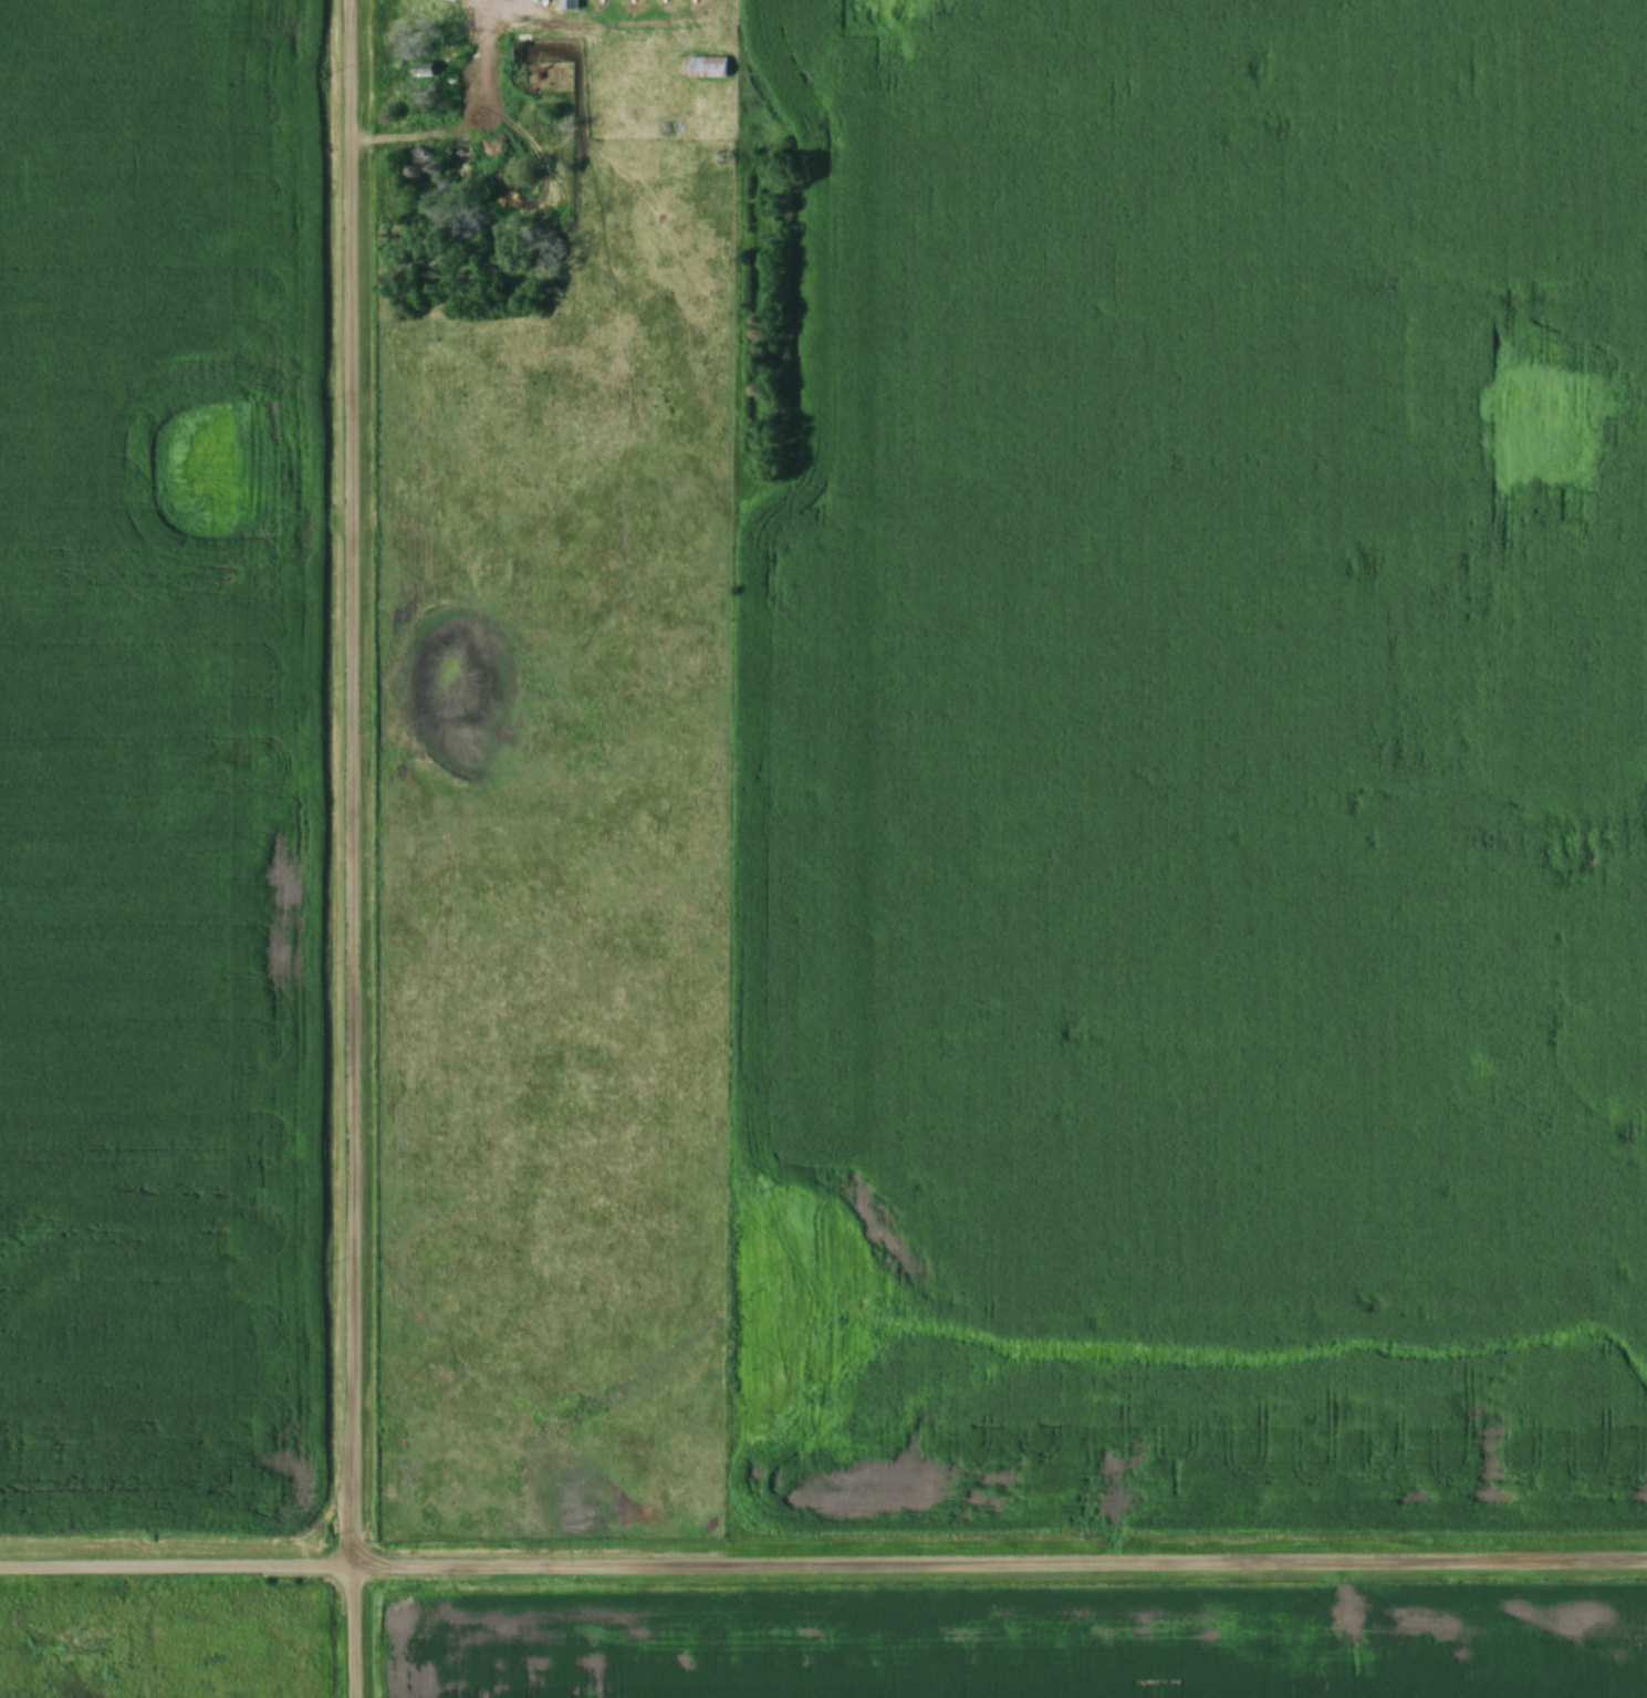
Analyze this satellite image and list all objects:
building: (706, 69)
building: (418, 72)
road: (470, 121)
building: (455, 167)
road: (350, 848)
road: (823, 1561)

